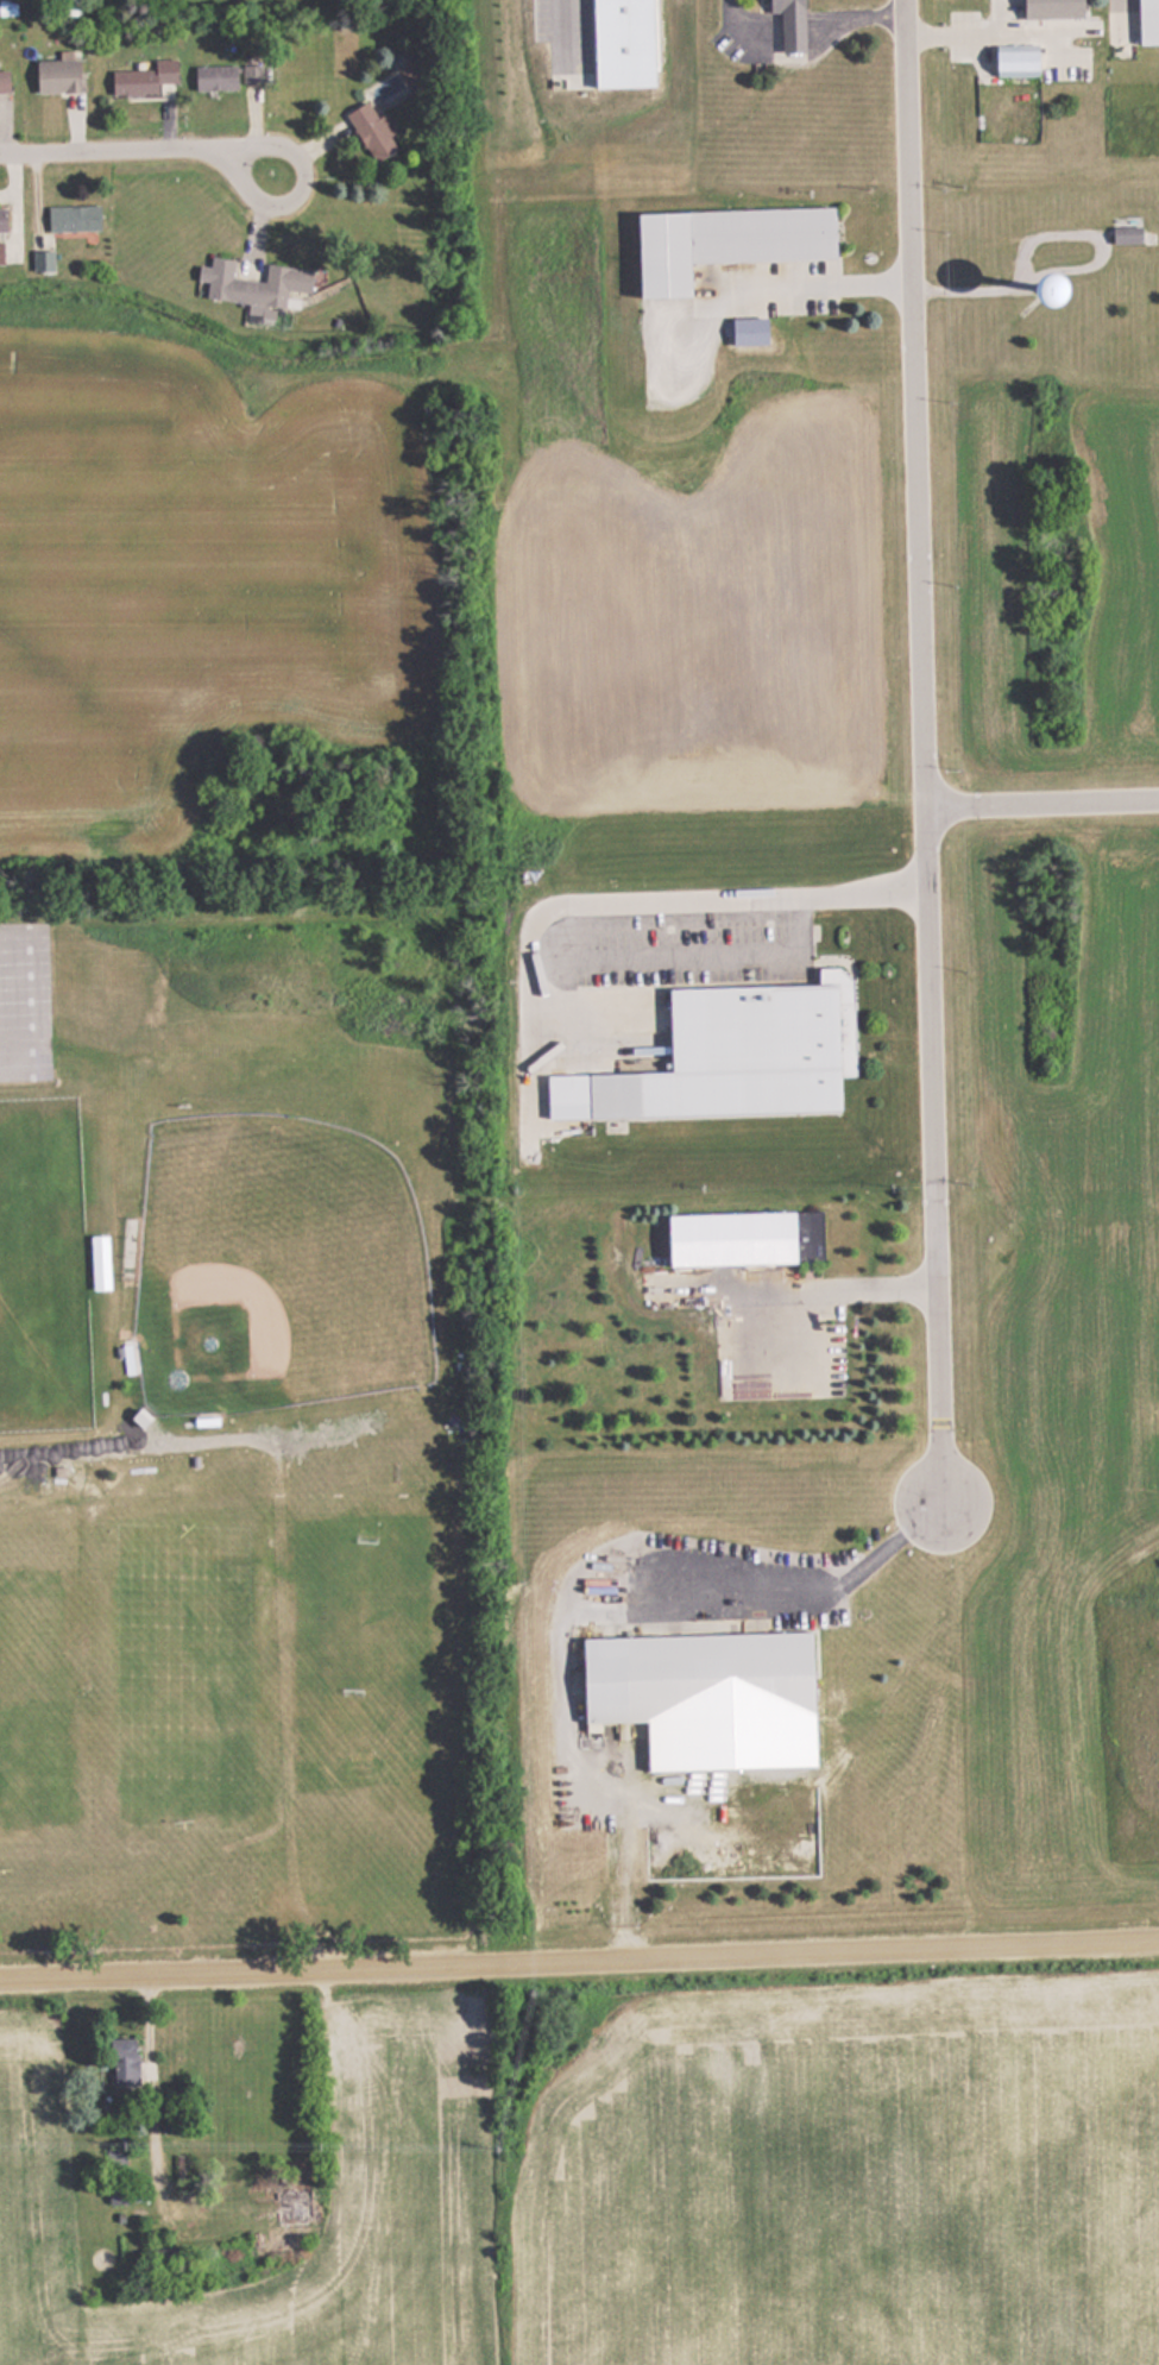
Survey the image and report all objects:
building: (1051, 8)
building: (1147, 21)
building: (788, 23)
building: (1014, 61)
building: (251, 73)
building: (407, 73)
building: (57, 75)
building: (213, 76)
building: (141, 77)
building: (2, 82)
building: (370, 130)
road: (140, 139)
building: (73, 218)
building: (2, 220)
building: (1125, 235)
building: (722, 243)
building: (0, 252)
building: (42, 260)
building: (252, 284)
water tower: (1048, 290)
road: (924, 753)
road: (1043, 798)
building: (741, 1052)
building: (742, 1237)
park: (273, 1269)
park: (37, 1270)
building: (204, 1419)
building: (694, 1677)
road: (579, 1956)
building: (124, 2062)
building: (115, 2197)
building: (288, 2203)

